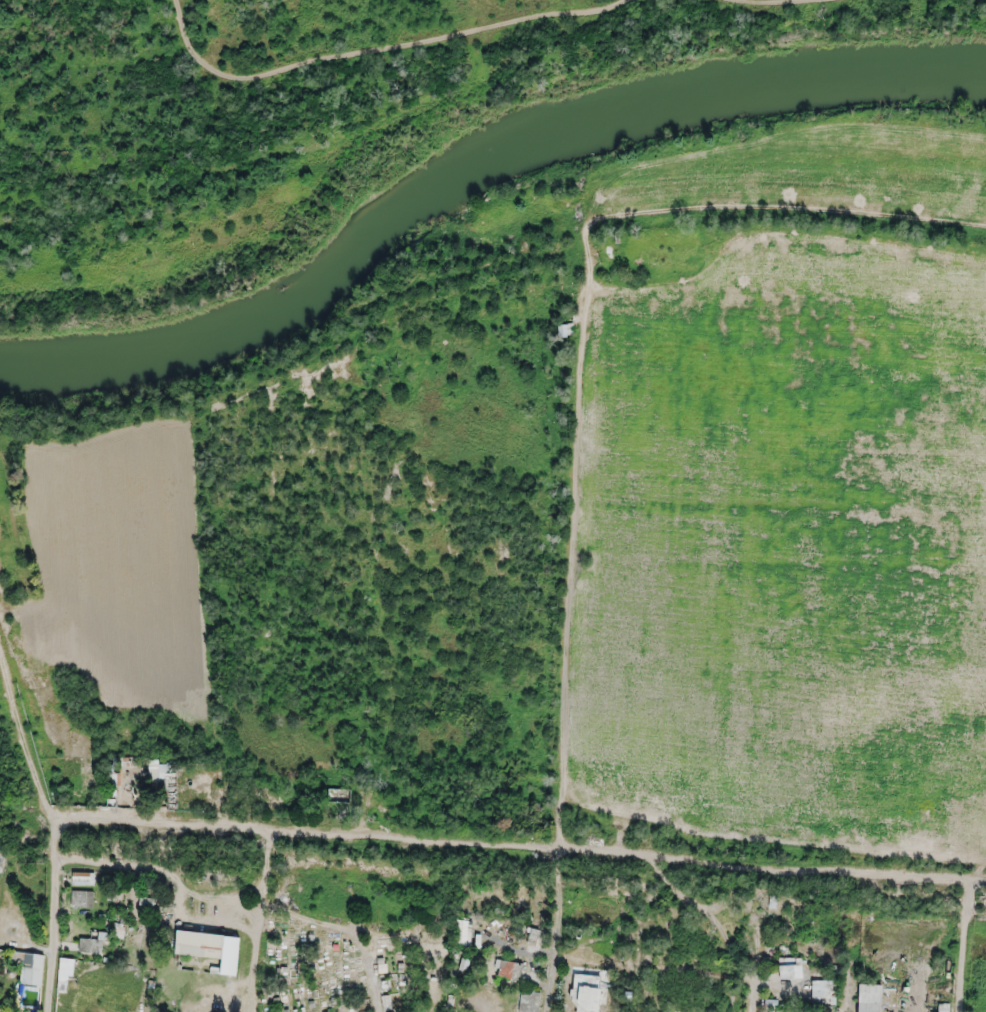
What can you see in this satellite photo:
river: (470, 163)
road: (29, 727)
building: (199, 942)
park: (352, 964)
building: (870, 1006)

